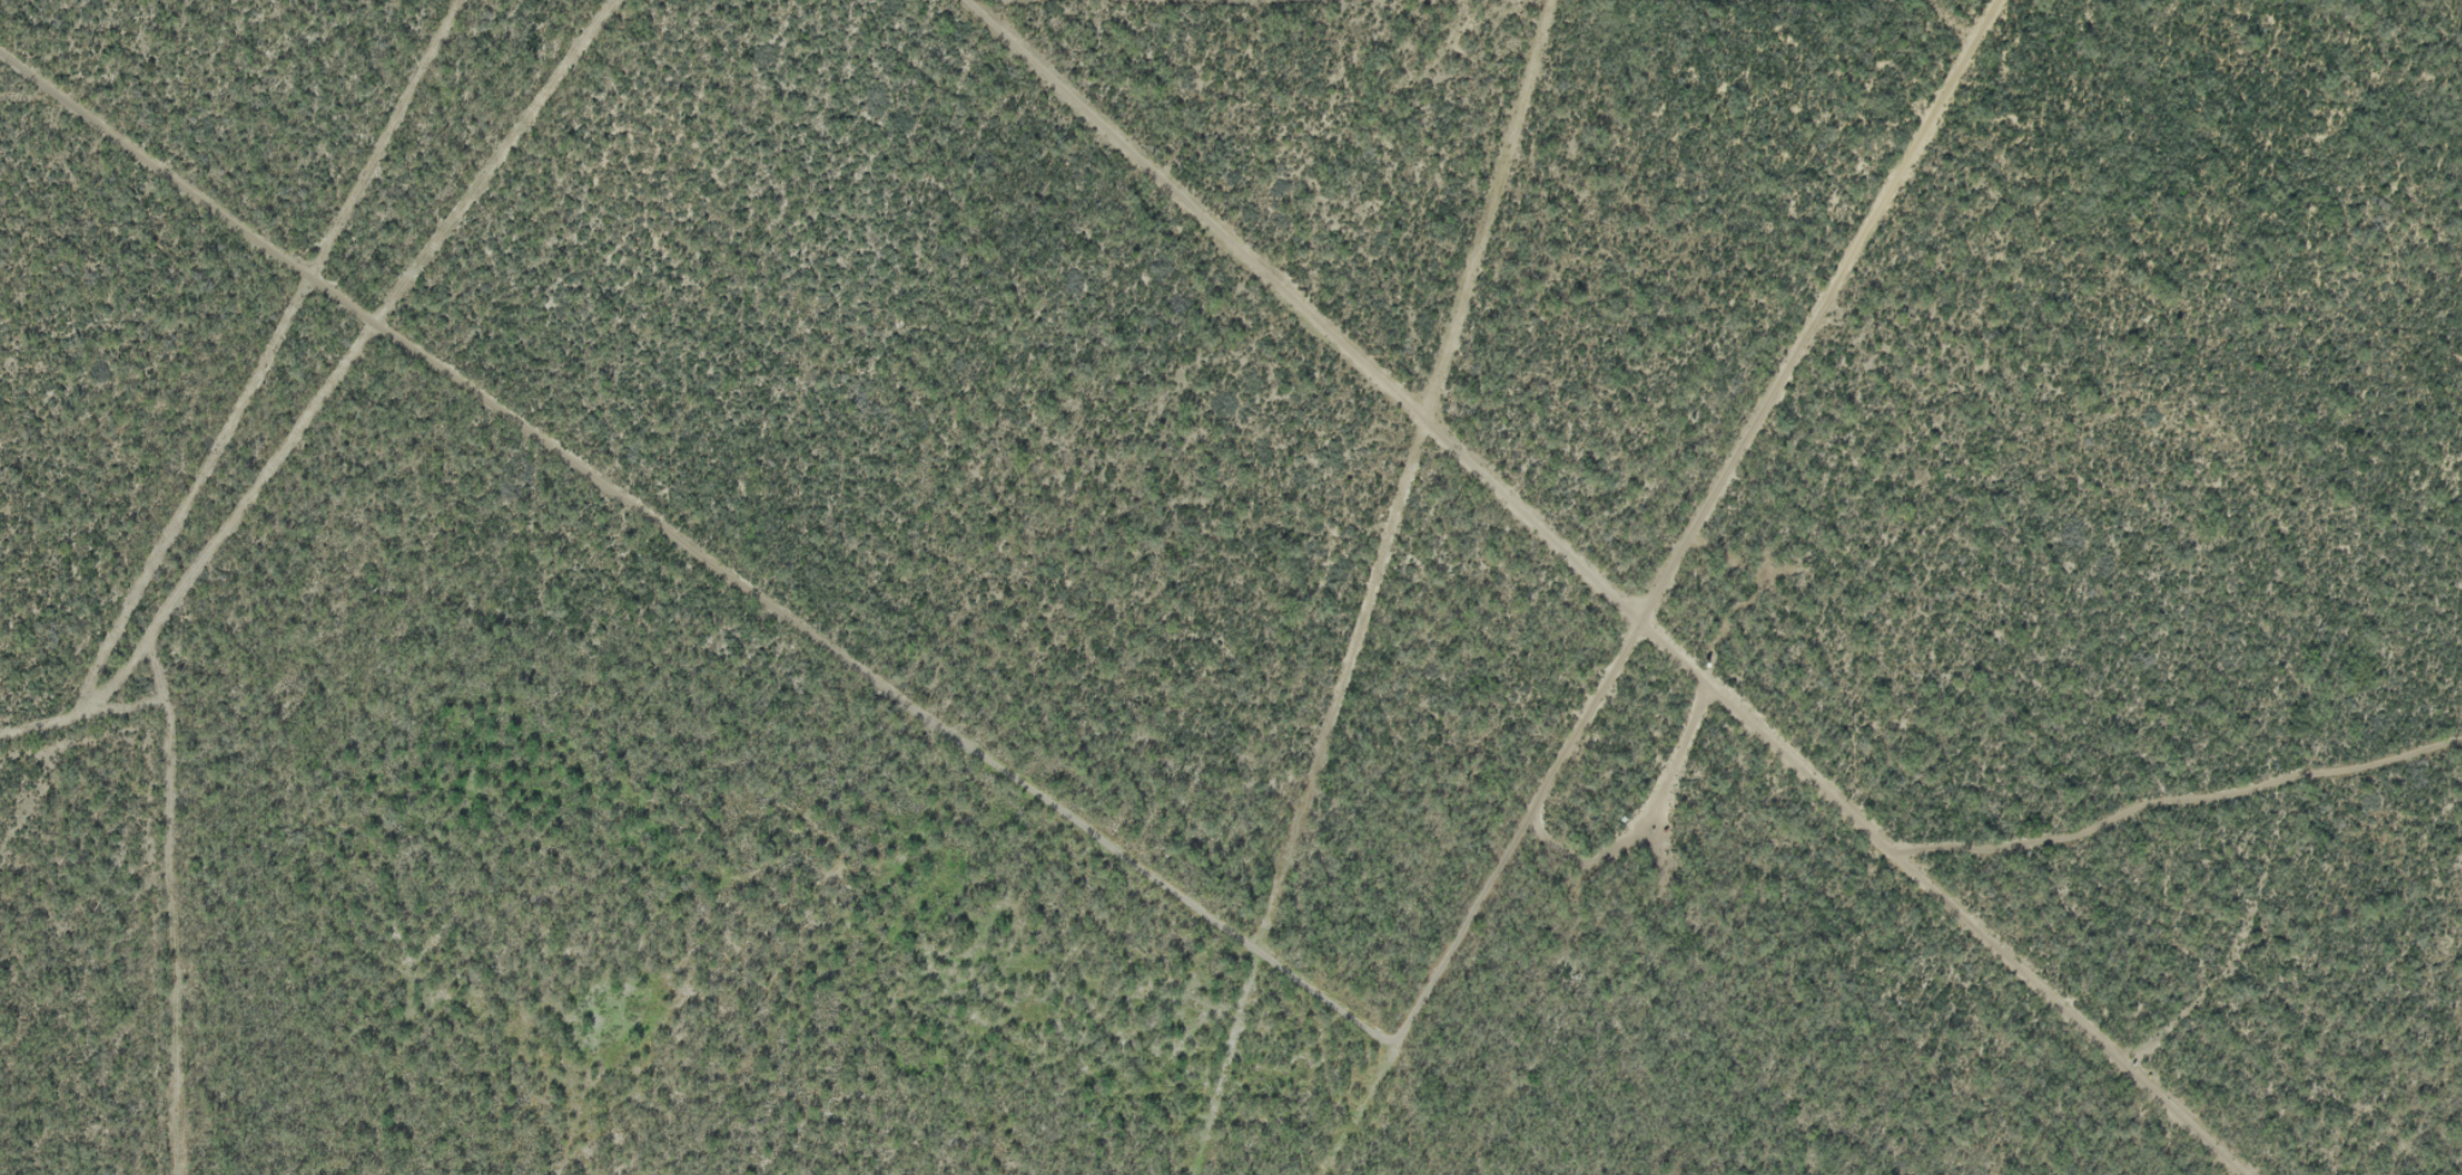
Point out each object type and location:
road: (1609, 587)

